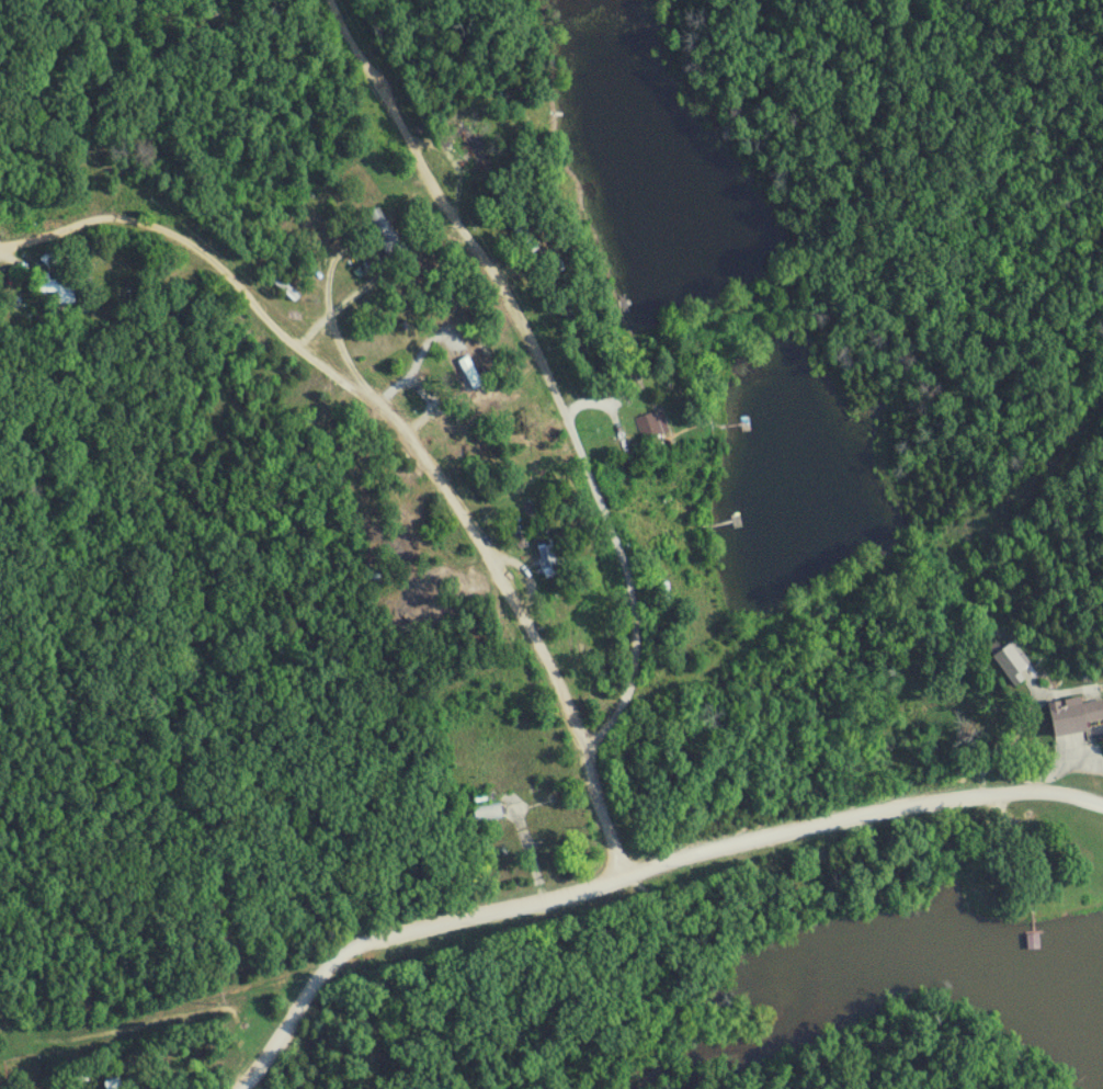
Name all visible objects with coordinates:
building: (474, 151)
building: (387, 232)
building: (52, 259)
building: (57, 288)
road: (96, 318)
road: (541, 364)
road: (361, 397)
building: (653, 426)
building: (345, 449)
building: (393, 540)
building: (664, 540)
building: (549, 559)
road: (967, 582)
building: (582, 636)
building: (1011, 661)
building: (1077, 714)
building: (488, 812)
road: (600, 817)
road: (635, 871)
road: (376, 1011)
building: (93, 1087)

